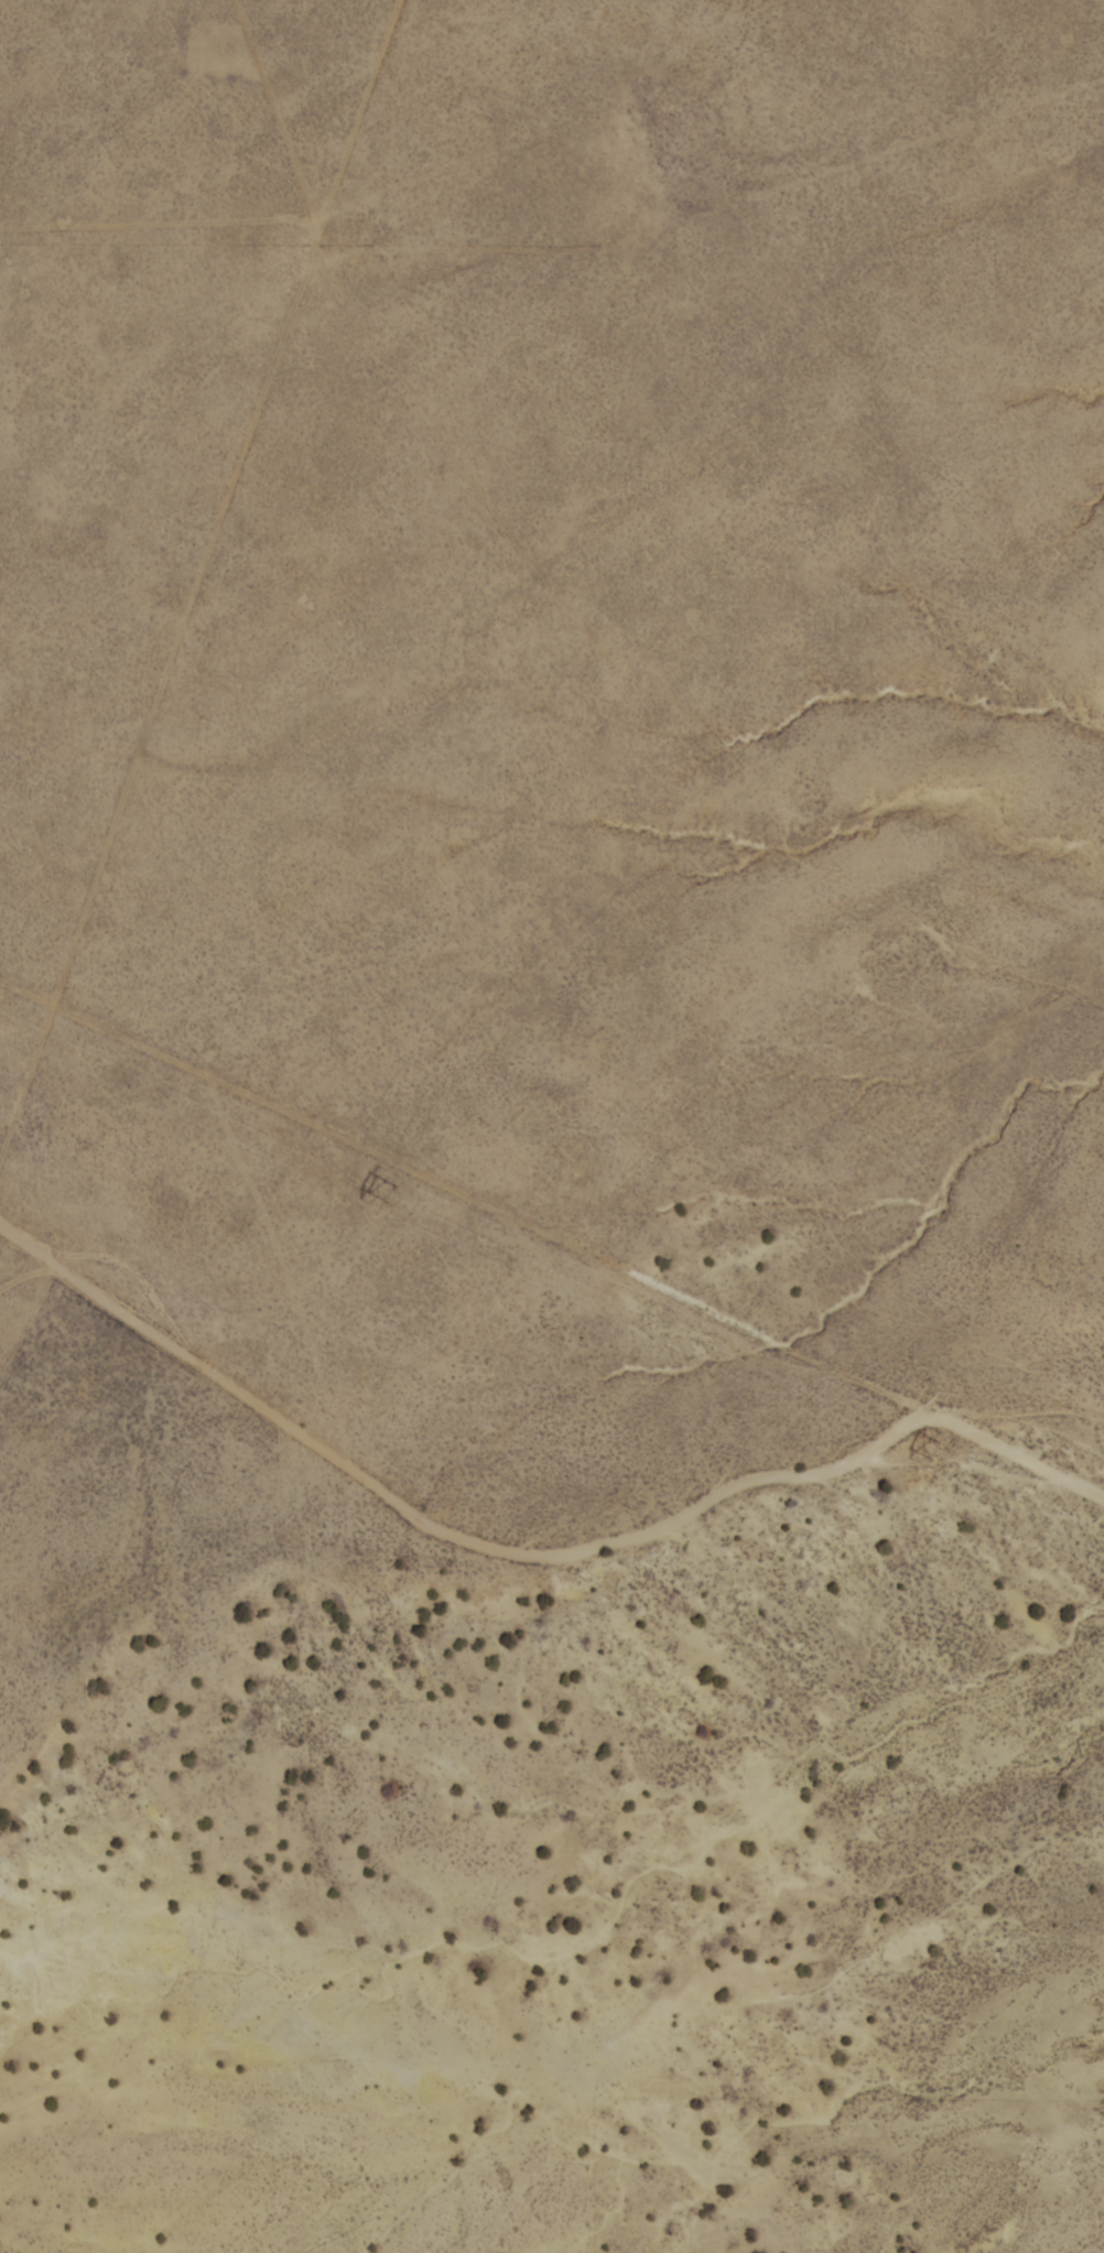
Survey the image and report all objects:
road: (165, 228)
road: (196, 574)
power tower: (388, 1196)
power tower: (932, 1453)

